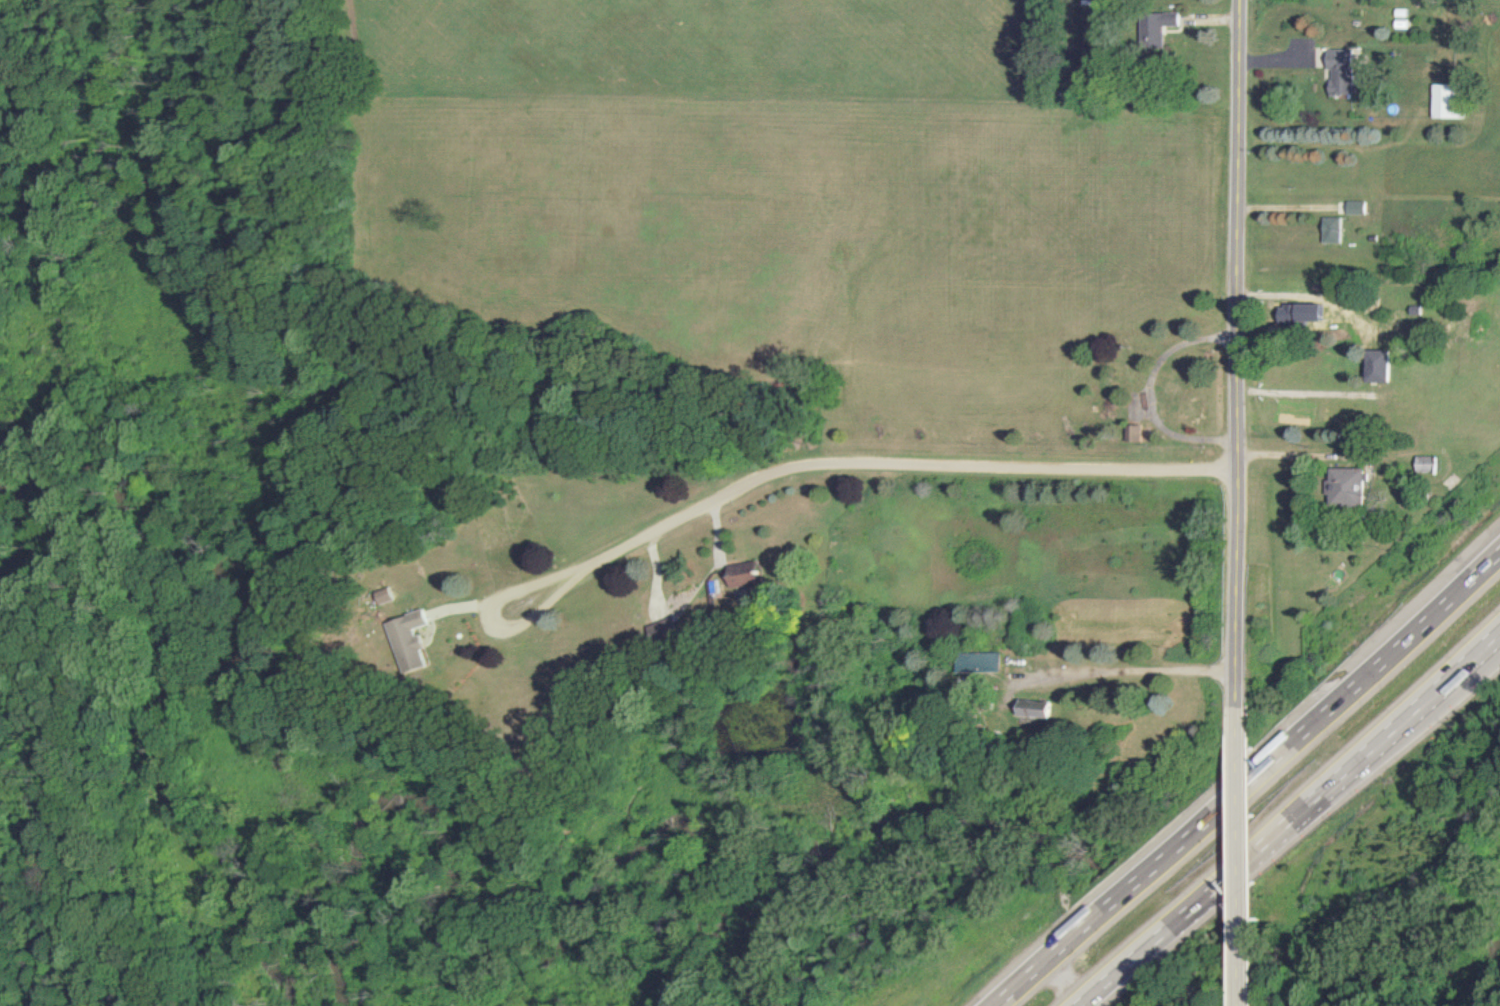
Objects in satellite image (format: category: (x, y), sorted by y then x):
building: (1163, 38)
building: (1342, 72)
building: (1451, 101)
road: (1292, 207)
building: (1358, 207)
building: (1334, 230)
road: (1239, 235)
road: (1291, 295)
building: (1304, 314)
building: (1380, 366)
road: (1303, 390)
building: (1431, 464)
road: (857, 468)
building: (1347, 487)
building: (750, 574)
road: (1236, 588)
building: (391, 596)
building: (417, 640)
building: (986, 662)
road: (1136, 670)
building: (1041, 708)
road: (1248, 781)
road: (1287, 819)
road: (1236, 856)
road: (1064, 980)

